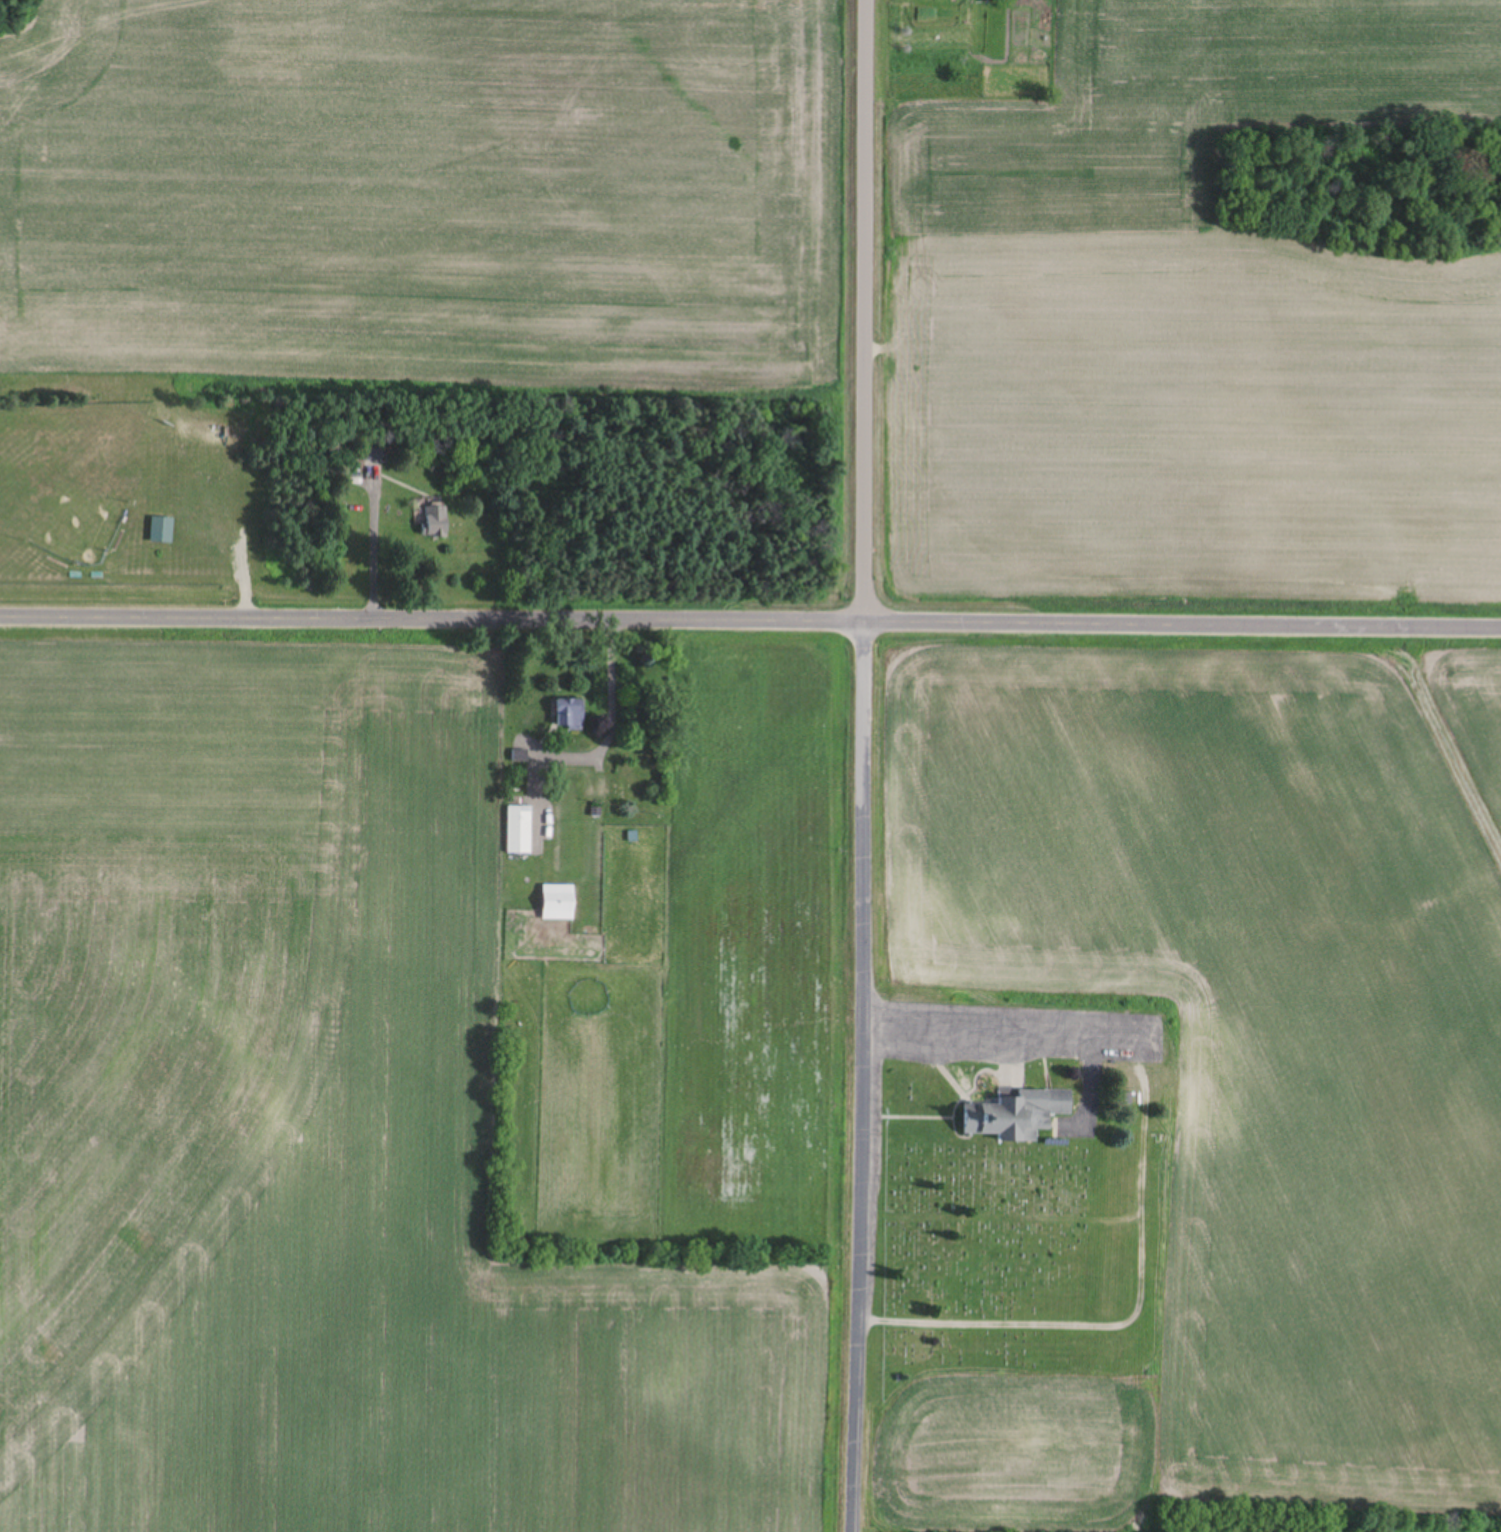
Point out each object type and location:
building: (436, 521)
building: (162, 530)
road: (750, 625)
building: (570, 714)
road: (863, 766)
building: (521, 831)
building: (560, 903)
building: (1015, 1114)
park: (1017, 1266)

